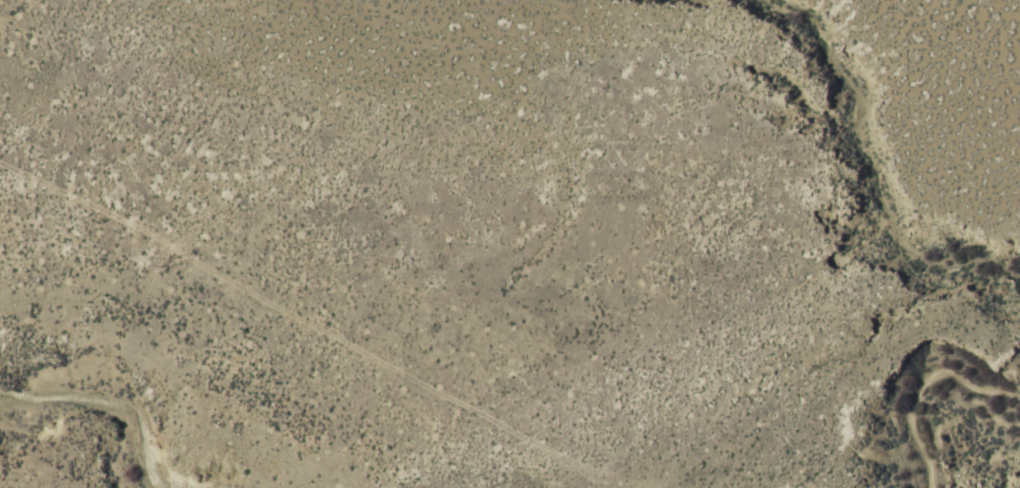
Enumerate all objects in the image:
road: (124, 231)
power tower: (163, 260)

